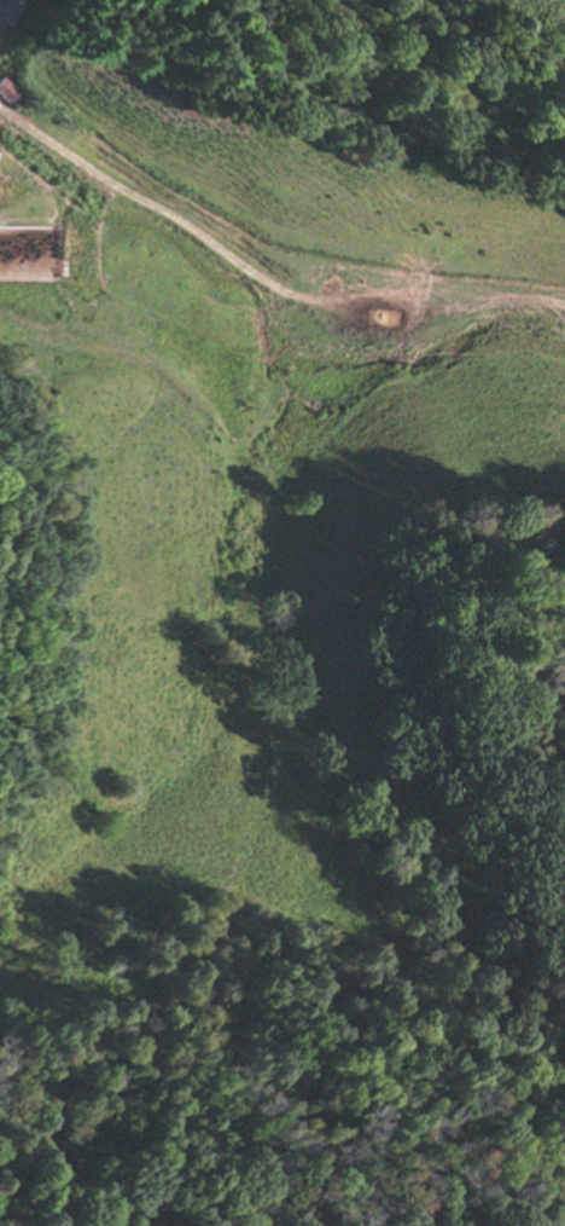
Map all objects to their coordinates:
building: (6, 91)

